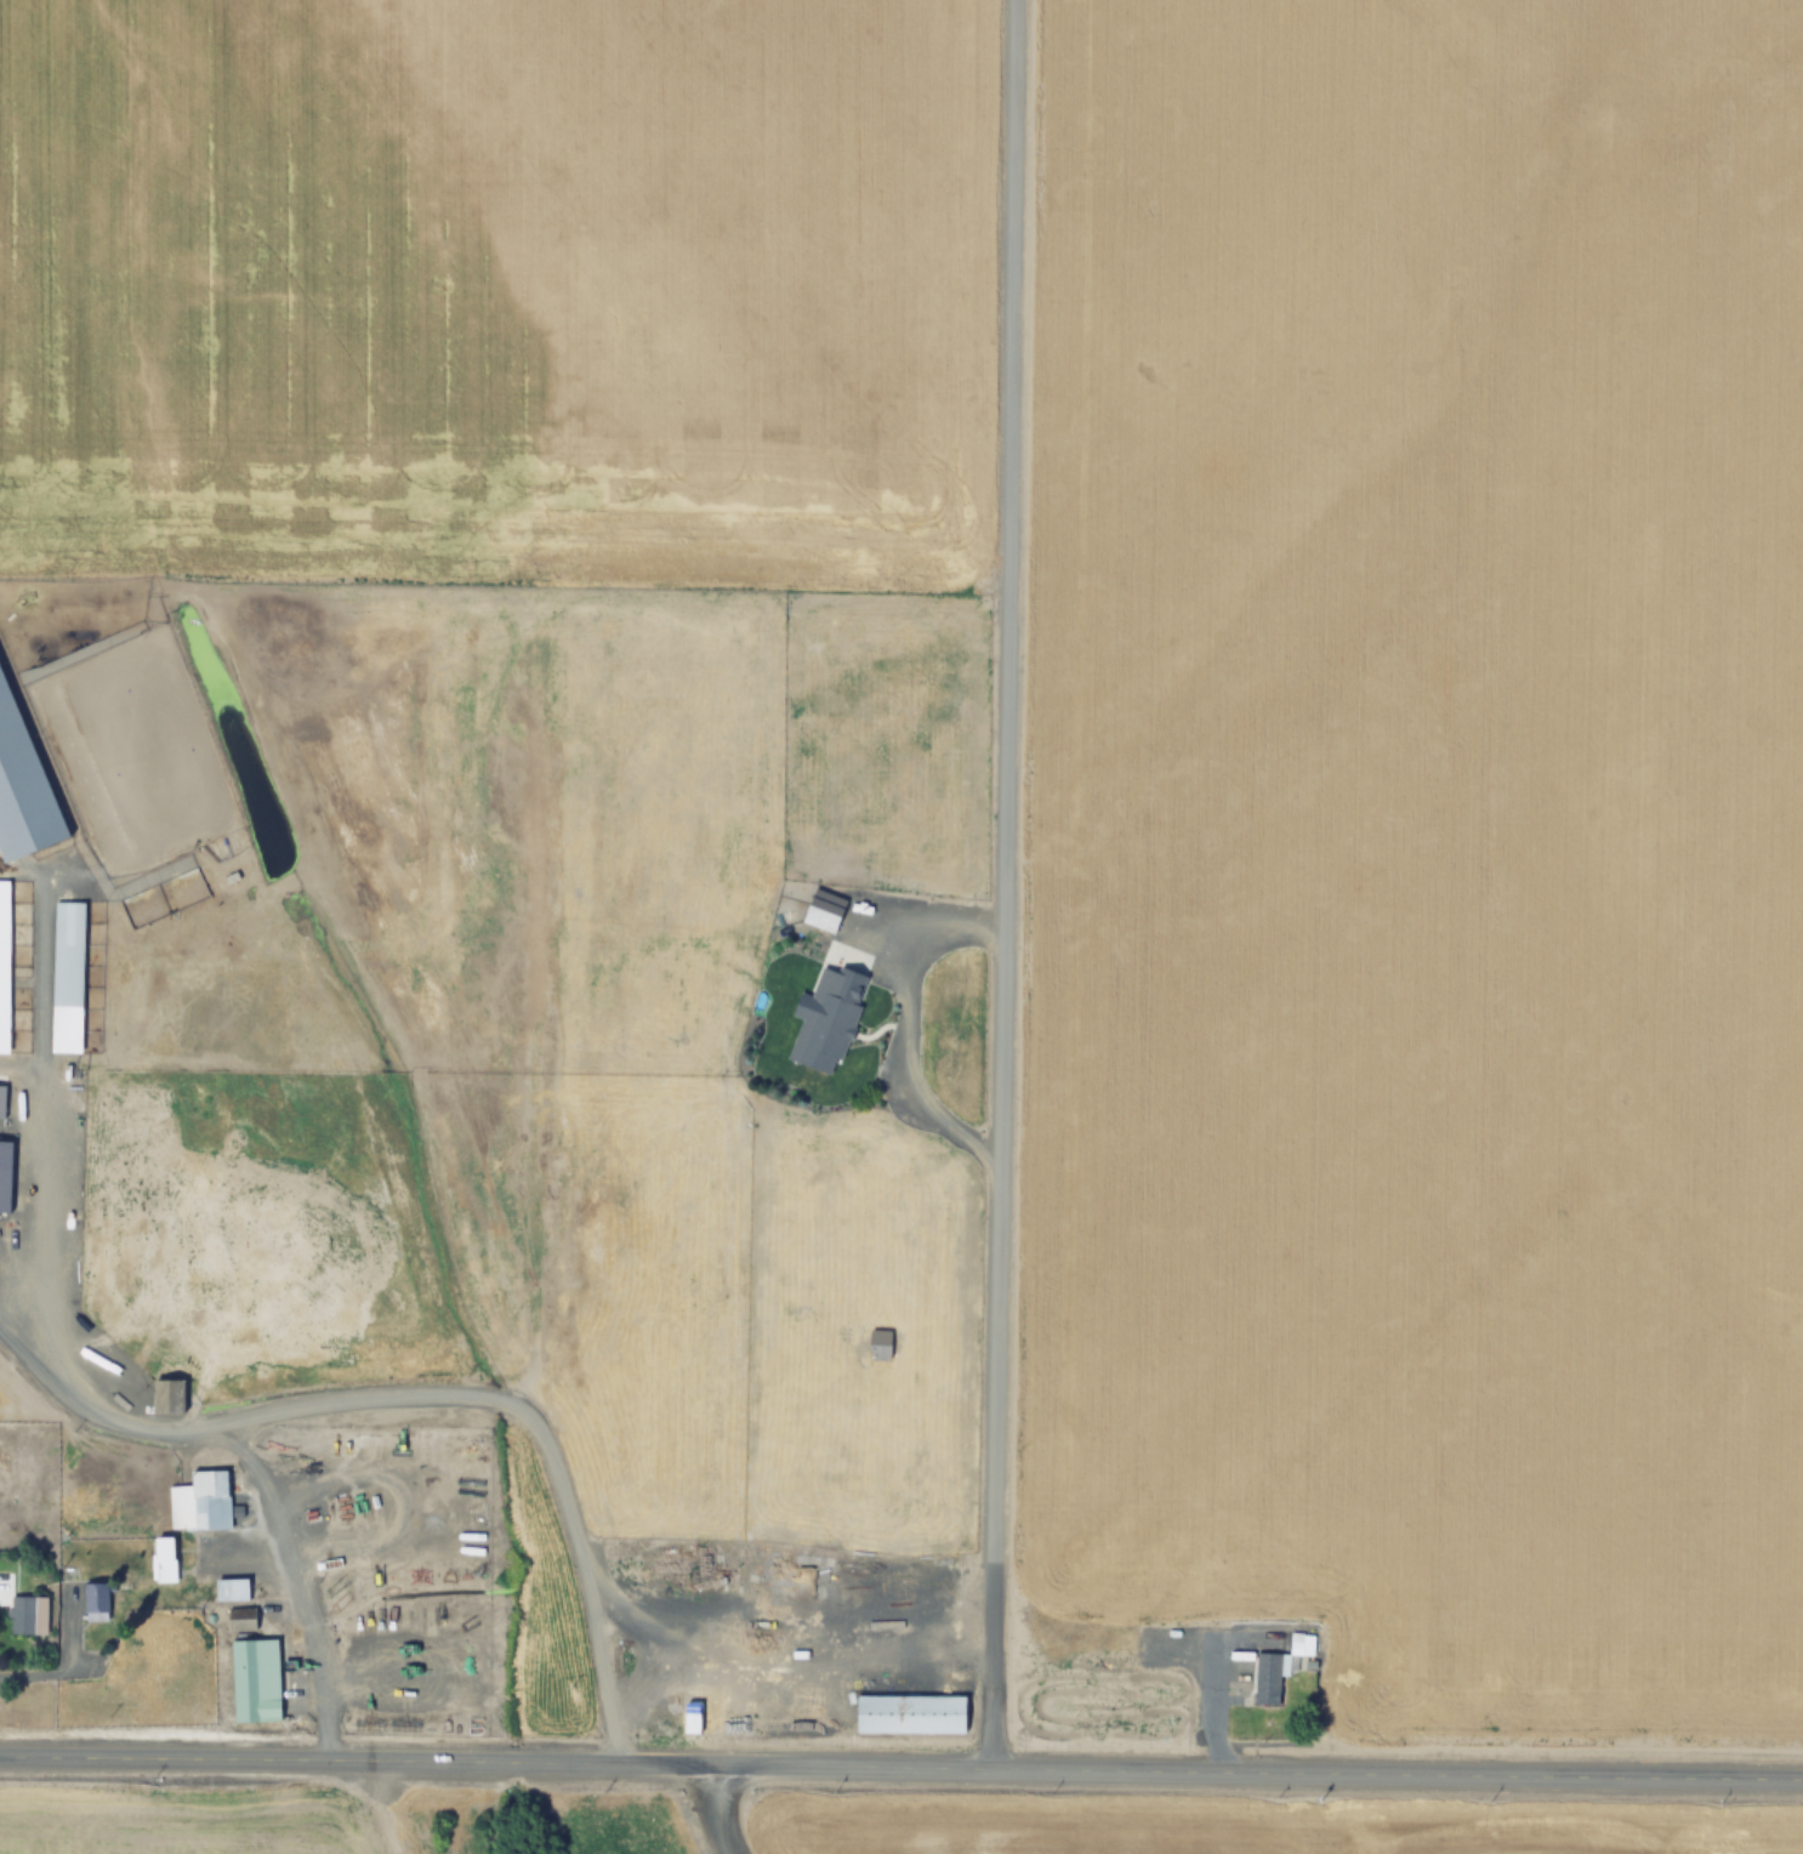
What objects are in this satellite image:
road: (1003, 887)
building: (67, 967)
building: (63, 1127)
building: (93, 1301)
building: (167, 1394)
road: (427, 1398)
building: (940, 1485)
building: (8, 1488)
building: (200, 1501)
building: (163, 1559)
building: (232, 1588)
building: (28, 1614)
building: (241, 1625)
building: (1302, 1643)
building: (1264, 1647)
building: (256, 1679)
building: (910, 1712)
road: (496, 1759)
road: (1398, 1776)

